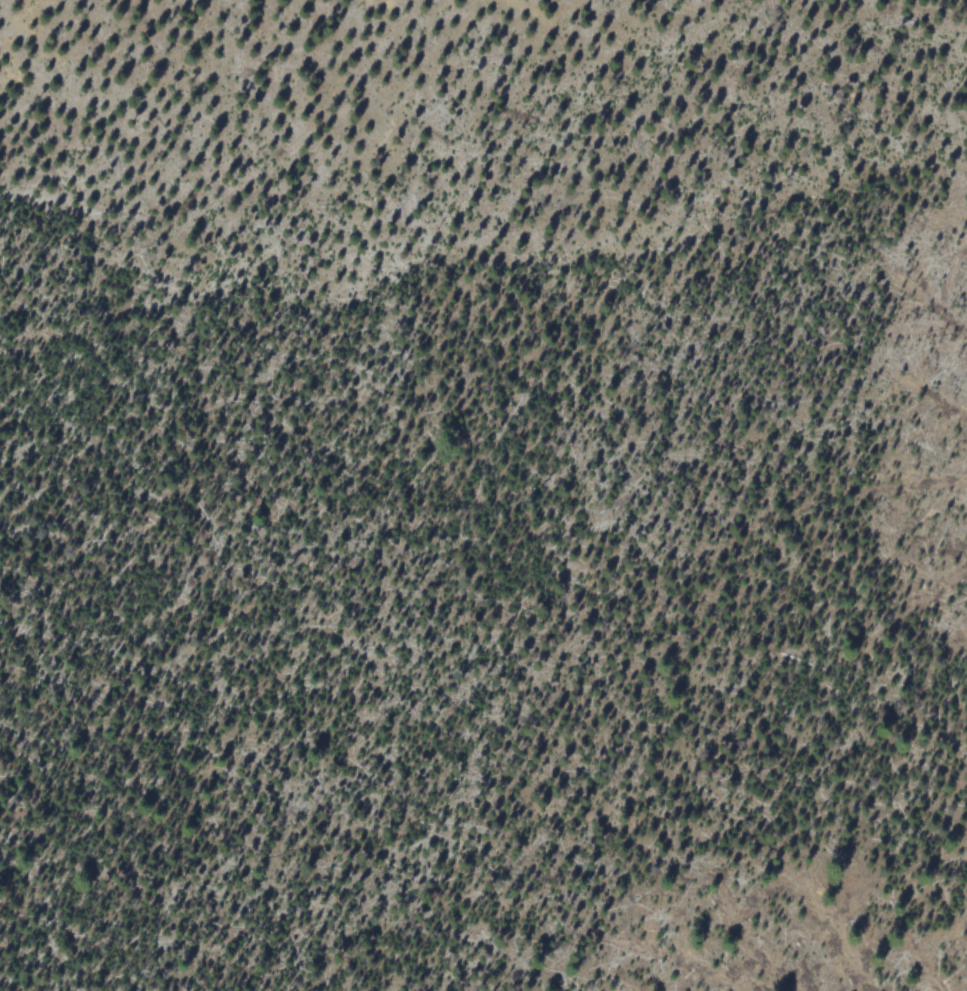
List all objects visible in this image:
road: (339, 33)
road: (9, 60)

